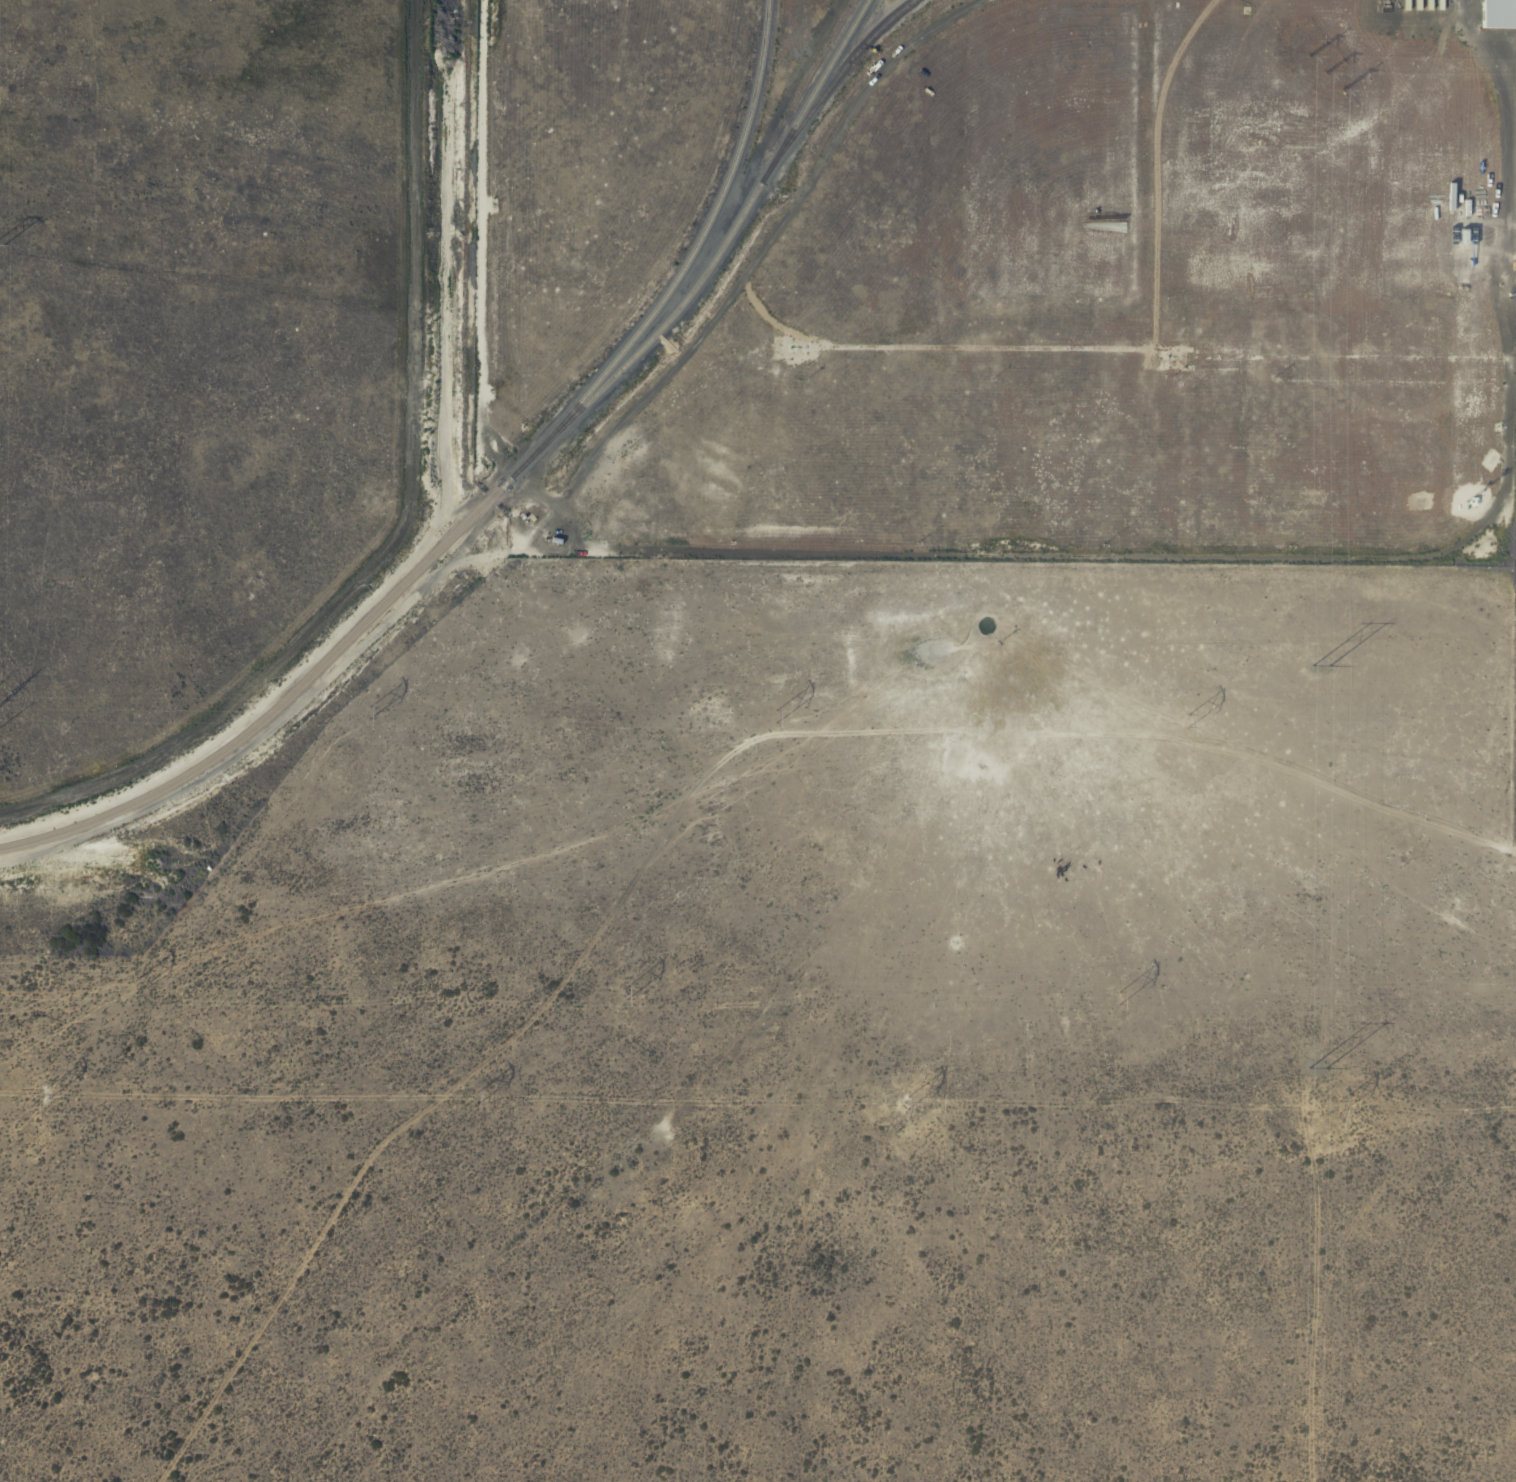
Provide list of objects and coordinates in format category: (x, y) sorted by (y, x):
building: (1498, 14)
power tower: (1323, 74)
railway: (837, 76)
power substation: (1515, 203)
road: (478, 236)
railway: (713, 258)
railway: (684, 263)
power plant: (996, 280)
power tower: (1315, 659)
railway: (279, 701)
power tower: (369, 710)
power tower: (778, 714)
power tower: (1188, 714)
power tower: (135, 983)
power tower: (628, 991)
power tower: (1118, 997)
power tower: (1319, 1066)
power tower: (44, 1095)
power tower: (473, 1098)
power tower: (906, 1102)
power tower: (1338, 1108)

